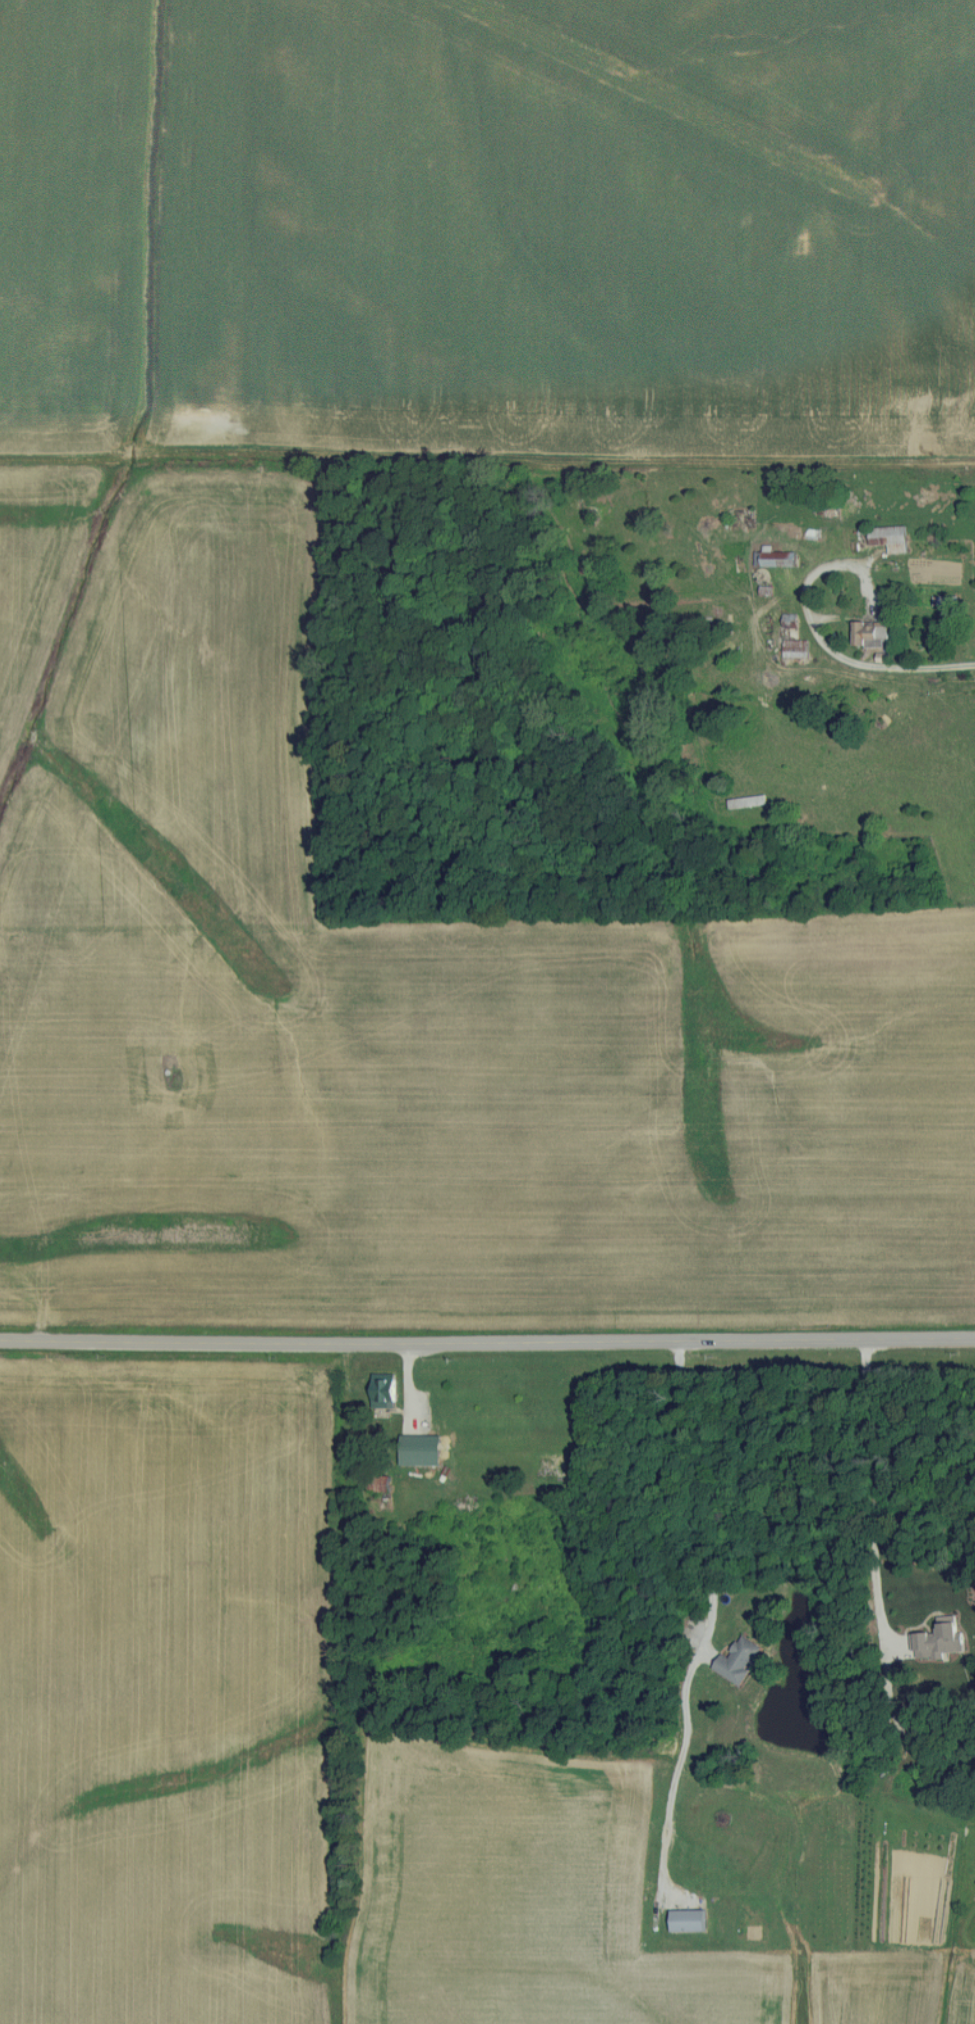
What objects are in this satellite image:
building: (890, 538)
building: (775, 558)
building: (872, 634)
building: (796, 648)
road: (857, 664)
road: (487, 1335)
building: (385, 1391)
building: (550, 1465)
building: (381, 1484)
road: (876, 1493)
road: (678, 1498)
building: (739, 1659)
building: (689, 1921)

